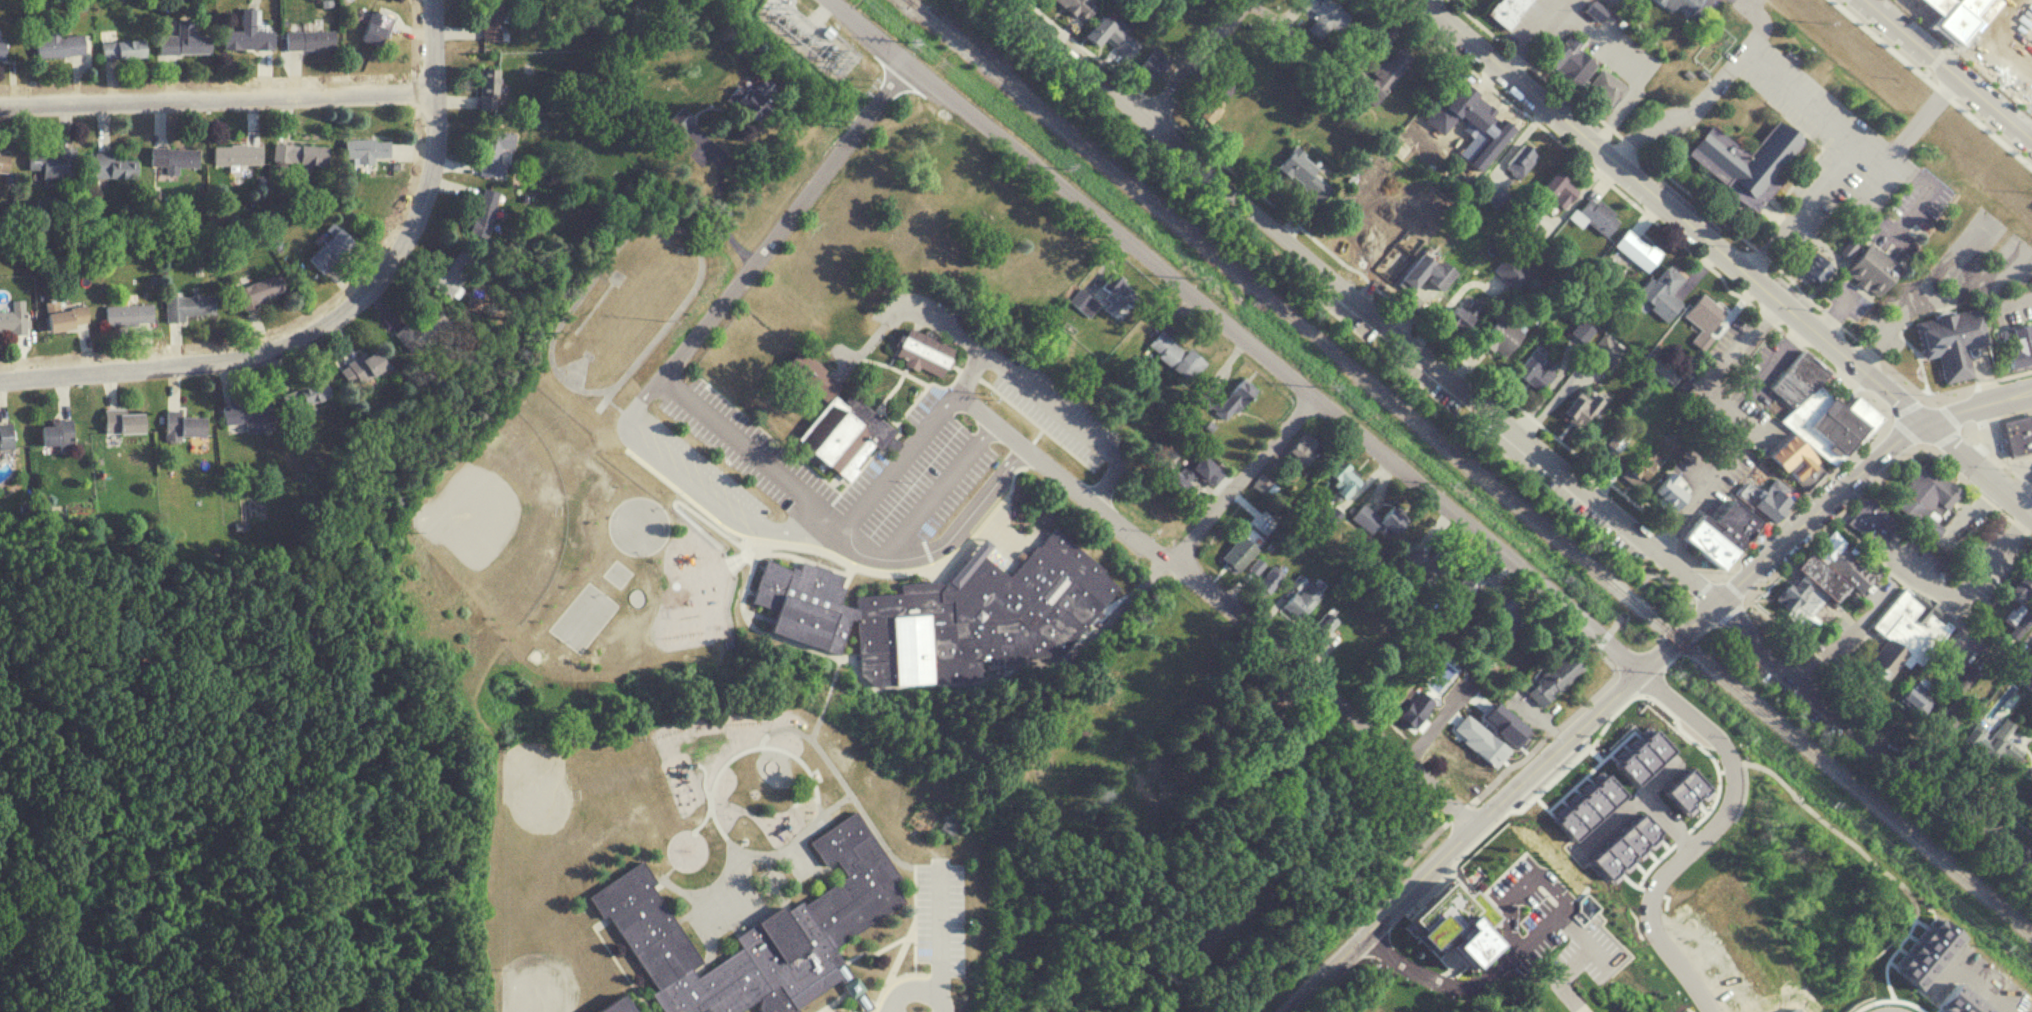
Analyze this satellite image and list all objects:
parking lot: (1712, 2)
road: (1744, 2)
building: (1675, 4)
building: (1068, 5)
building: (1508, 11)
building: (1592, 11)
building: (1323, 16)
building: (1957, 16)
parking lot: (1531, 18)
building: (493, 20)
road: (1759, 25)
building: (379, 28)
building: (1100, 31)
road: (1531, 33)
building: (249, 34)
building: (310, 38)
building: (186, 40)
parking lot: (2010, 41)
road: (1883, 42)
building: (61, 44)
building: (4, 48)
building: (125, 49)
road: (1083, 49)
road: (1965, 55)
road: (1746, 56)
road: (1936, 58)
road: (1197, 60)
building: (1567, 60)
building: (1150, 64)
road: (1629, 66)
road: (1952, 66)
building: (1384, 76)
building: (490, 88)
building: (1604, 89)
road: (1942, 91)
building: (747, 97)
road: (217, 99)
road: (1802, 102)
building: (1210, 103)
road: (1156, 108)
road: (1682, 114)
road: (1917, 117)
building: (1476, 129)
road: (1991, 133)
parking lot: (1828, 140)
building: (368, 149)
building: (492, 152)
building: (238, 154)
building: (302, 154)
building: (175, 158)
building: (1519, 161)
road: (1873, 161)
building: (5, 162)
building: (54, 162)
building: (1741, 162)
building: (117, 165)
building: (1296, 166)
road: (1908, 170)
road: (1826, 178)
building: (1556, 192)
road: (1864, 195)
road: (1691, 196)
parking lot: (1920, 201)
road: (1916, 204)
road: (1639, 208)
road: (719, 211)
road: (1671, 211)
building: (486, 212)
building: (1596, 216)
road: (1895, 233)
parking lot: (1882, 236)
road: (768, 237)
building: (1413, 240)
road: (1771, 242)
building: (1381, 248)
building: (332, 250)
building: (1634, 250)
building: (1814, 268)
building: (1868, 270)
building: (458, 271)
building: (1509, 271)
building: (1423, 274)
building: (263, 290)
road: (1967, 291)
building: (1660, 292)
building: (1114, 293)
road: (1922, 297)
building: (190, 306)
building: (130, 314)
railway: (1285, 315)
building: (67, 316)
road: (338, 316)
building: (1458, 317)
building: (1702, 318)
building: (14, 321)
road: (1417, 323)
building: (422, 327)
road: (1900, 328)
building: (1581, 332)
road: (1238, 333)
building: (1498, 337)
building: (1948, 340)
building: (2016, 345)
building: (921, 350)
building: (1172, 353)
building: (367, 367)
building: (1533, 369)
road: (1010, 371)
road: (970, 373)
building: (817, 380)
road: (1976, 382)
building: (309, 394)
building: (1224, 397)
road: (1976, 403)
road: (1903, 406)
building: (1578, 408)
road: (1734, 411)
road: (1945, 411)
building: (1822, 412)
building: (252, 414)
road: (2012, 417)
building: (127, 420)
building: (186, 424)
road: (1983, 424)
road: (1966, 427)
road: (1902, 431)
road: (1518, 432)
building: (58, 433)
building: (843, 434)
building: (2016, 434)
building: (7, 436)
road: (1943, 437)
building: (1612, 442)
road: (1923, 444)
building: (1299, 446)
road: (1994, 459)
building: (1792, 461)
building: (1638, 465)
building: (1200, 467)
road: (1978, 467)
road: (1244, 478)
road: (2020, 478)
building: (1343, 479)
road: (937, 488)
road: (1973, 489)
building: (1667, 492)
building: (1921, 493)
road: (724, 496)
building: (1762, 496)
road: (1802, 498)
road: (818, 504)
road: (1970, 509)
building: (1376, 517)
building: (1869, 520)
road: (1828, 523)
park: (636, 524)
road: (1668, 532)
building: (1716, 533)
road: (1662, 537)
road: (946, 538)
building: (1241, 547)
building: (1833, 552)
building: (1410, 555)
road: (1698, 557)
building: (1435, 563)
parking lot: (1959, 566)
building: (1253, 567)
building: (1265, 578)
building: (1823, 582)
road: (1640, 583)
road: (1669, 583)
road: (1733, 585)
road: (1969, 585)
building: (1467, 587)
building: (2022, 587)
road: (1703, 588)
road: (1223, 599)
building: (1299, 599)
building: (1797, 605)
road: (1732, 611)
building: (942, 612)
building: (1504, 614)
park: (583, 616)
building: (2018, 621)
building: (1321, 624)
parking lot: (1830, 628)
building: (1908, 634)
road: (1836, 637)
railway: (1675, 639)
road: (1982, 648)
road: (1674, 657)
building: (1550, 679)
building: (1103, 683)
building: (1916, 696)
road: (1599, 710)
road: (1886, 713)
building: (1946, 718)
building: (1438, 726)
road: (1177, 740)
building: (2002, 741)
parking lot: (1877, 767)
building: (1627, 776)
building: (1142, 780)
railway: (1859, 792)
road: (1459, 811)
road: (1703, 835)
road: (1521, 886)
building: (1546, 888)
road: (1554, 888)
parking lot: (1532, 908)
parking lot: (939, 916)
road: (1509, 927)
road: (1541, 928)
road: (1571, 928)
building: (758, 932)
building: (1457, 934)
building: (1931, 960)
road: (937, 965)
road: (1436, 978)
road: (1994, 989)
building: (1958, 1003)
building: (615, 1005)
road: (938, 1006)
building: (1792, 1010)

